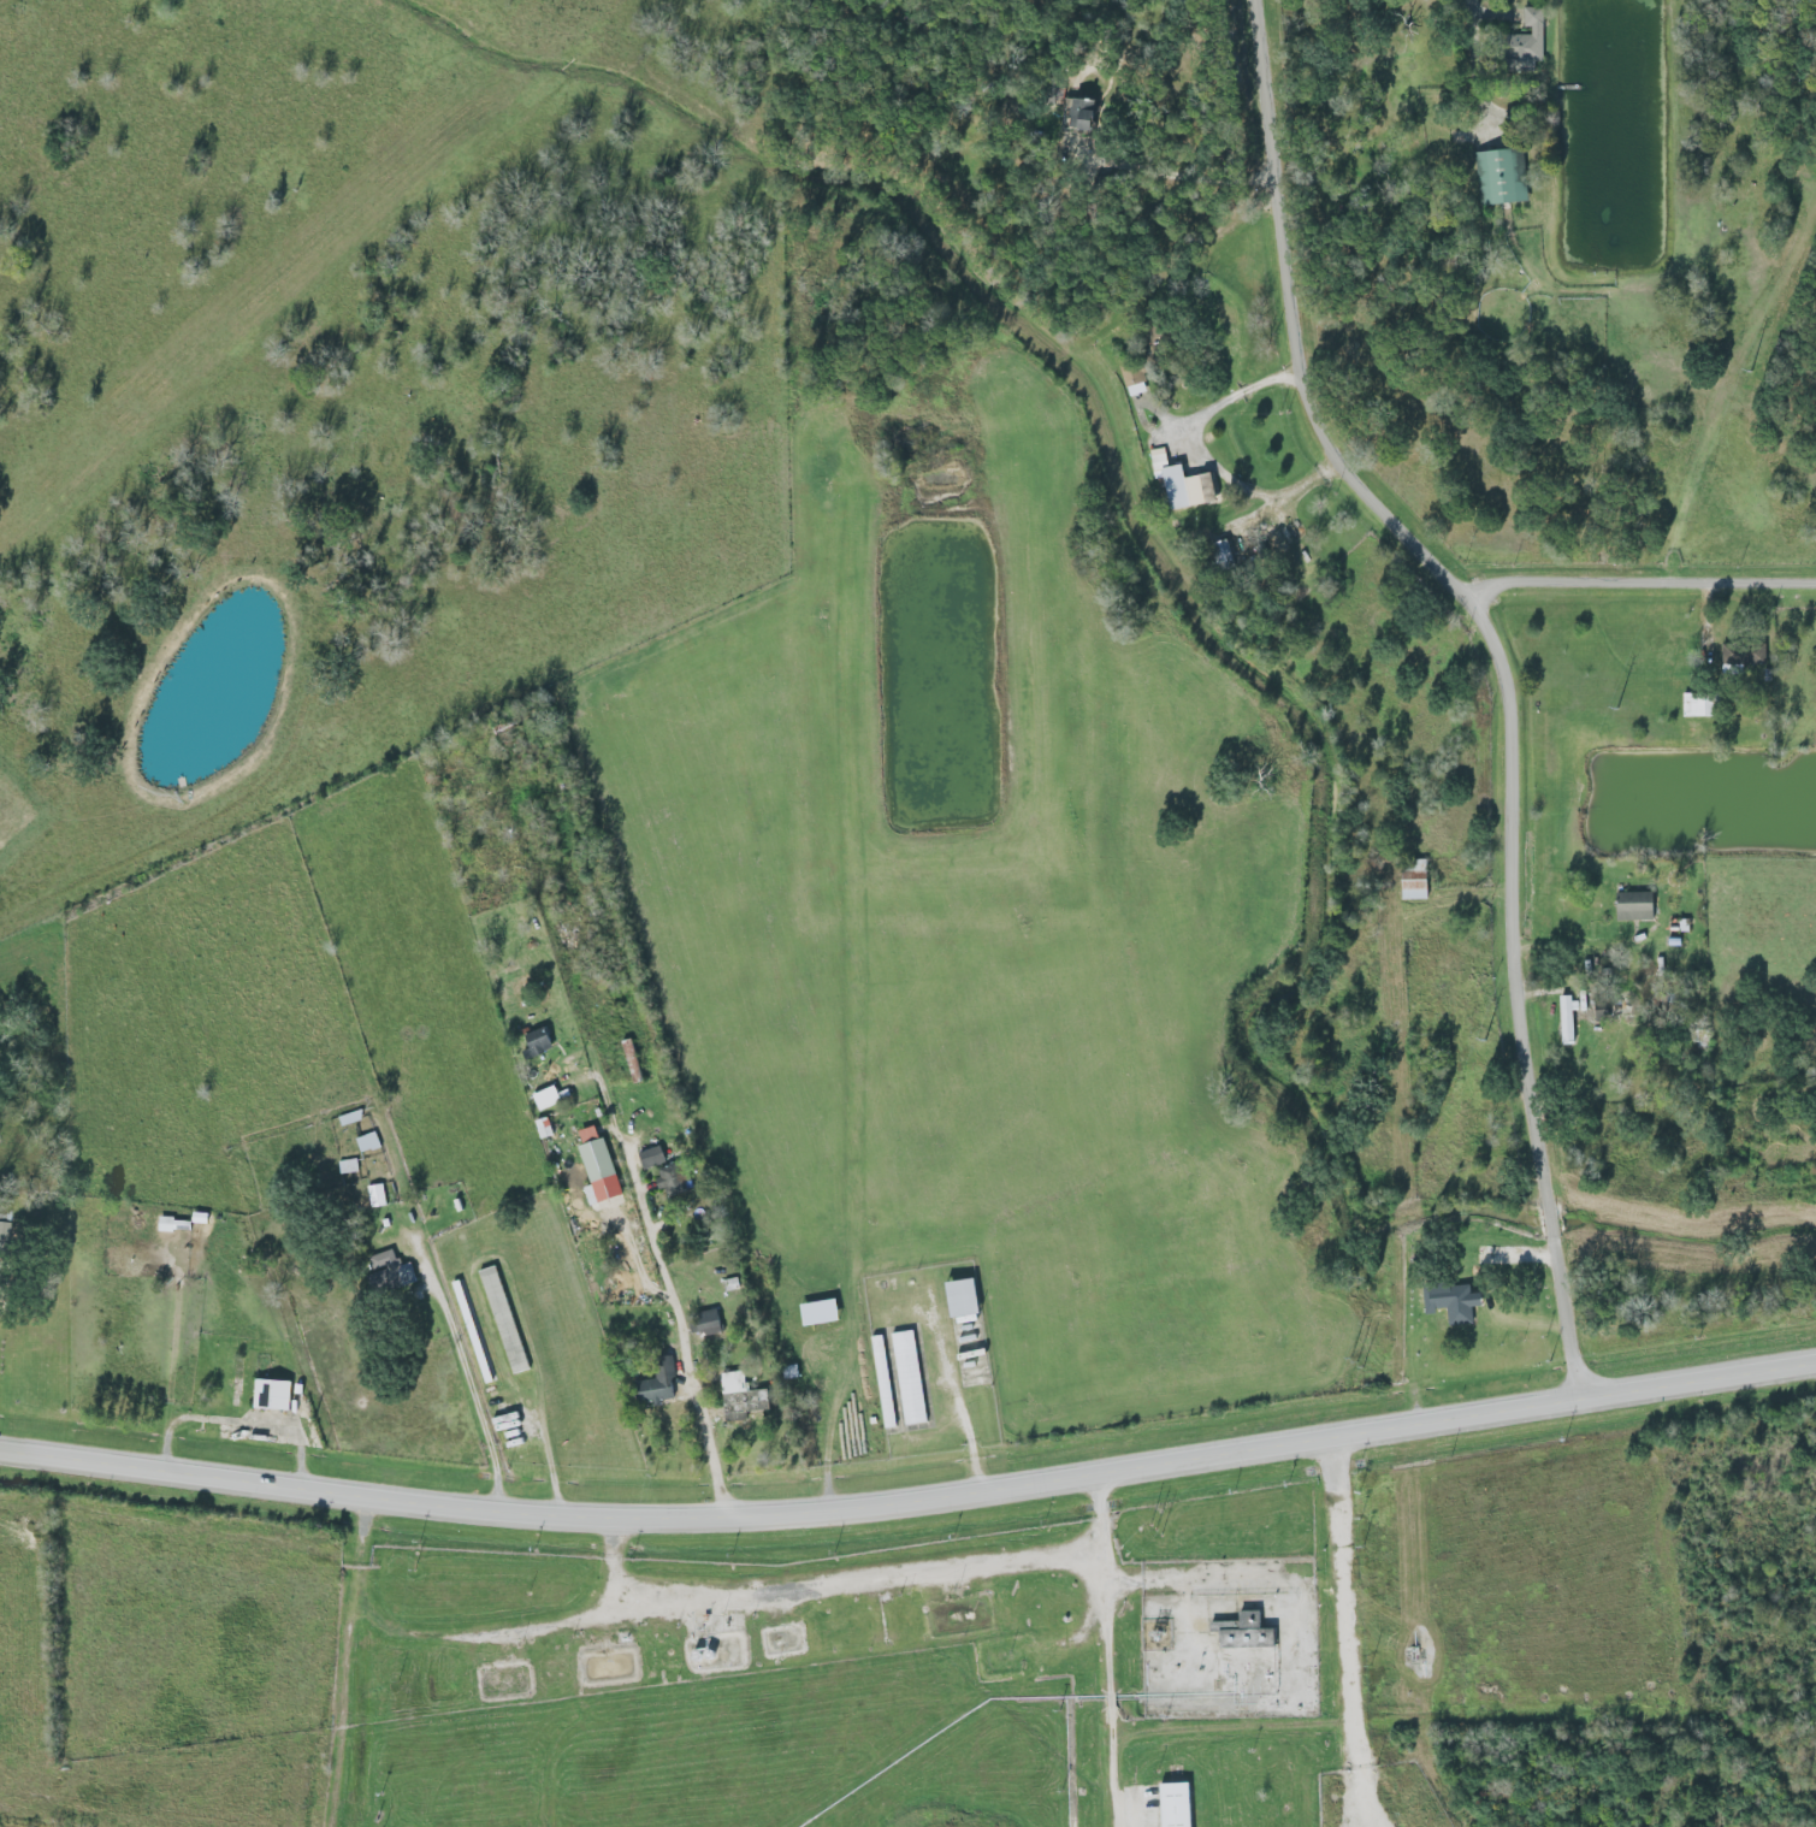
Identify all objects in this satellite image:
road: (1478, 7)
building: (1533, 37)
road: (1177, 175)
building: (1503, 177)
power tower: (1749, 372)
building: (1135, 379)
road: (1224, 401)
building: (1185, 483)
road: (1642, 586)
building: (1738, 658)
road: (1504, 668)
power tower: (1616, 704)
building: (1418, 880)
building: (1637, 905)
building: (1580, 999)
building: (1601, 1009)
building: (1567, 1019)
power tower: (1483, 1039)
building: (540, 1042)
building: (633, 1060)
building: (548, 1096)
building: (544, 1127)
building: (369, 1141)
building: (653, 1157)
road: (839, 1164)
building: (599, 1167)
building: (676, 1177)
road: (629, 1179)
building: (170, 1223)
building: (4, 1237)
building: (389, 1272)
building: (966, 1297)
building: (1454, 1301)
building: (822, 1312)
building: (505, 1319)
building: (710, 1322)
power tower: (1355, 1362)
building: (899, 1378)
building: (661, 1385)
building: (274, 1394)
road: (472, 1394)
building: (743, 1396)
road: (911, 1506)
power tower: (1154, 1530)
road: (826, 1584)
road: (24, 1592)
building: (1247, 1632)
power substation: (1157, 1634)
road: (1348, 1634)
road: (1111, 1651)
road: (350, 1663)
building: (1178, 1805)

